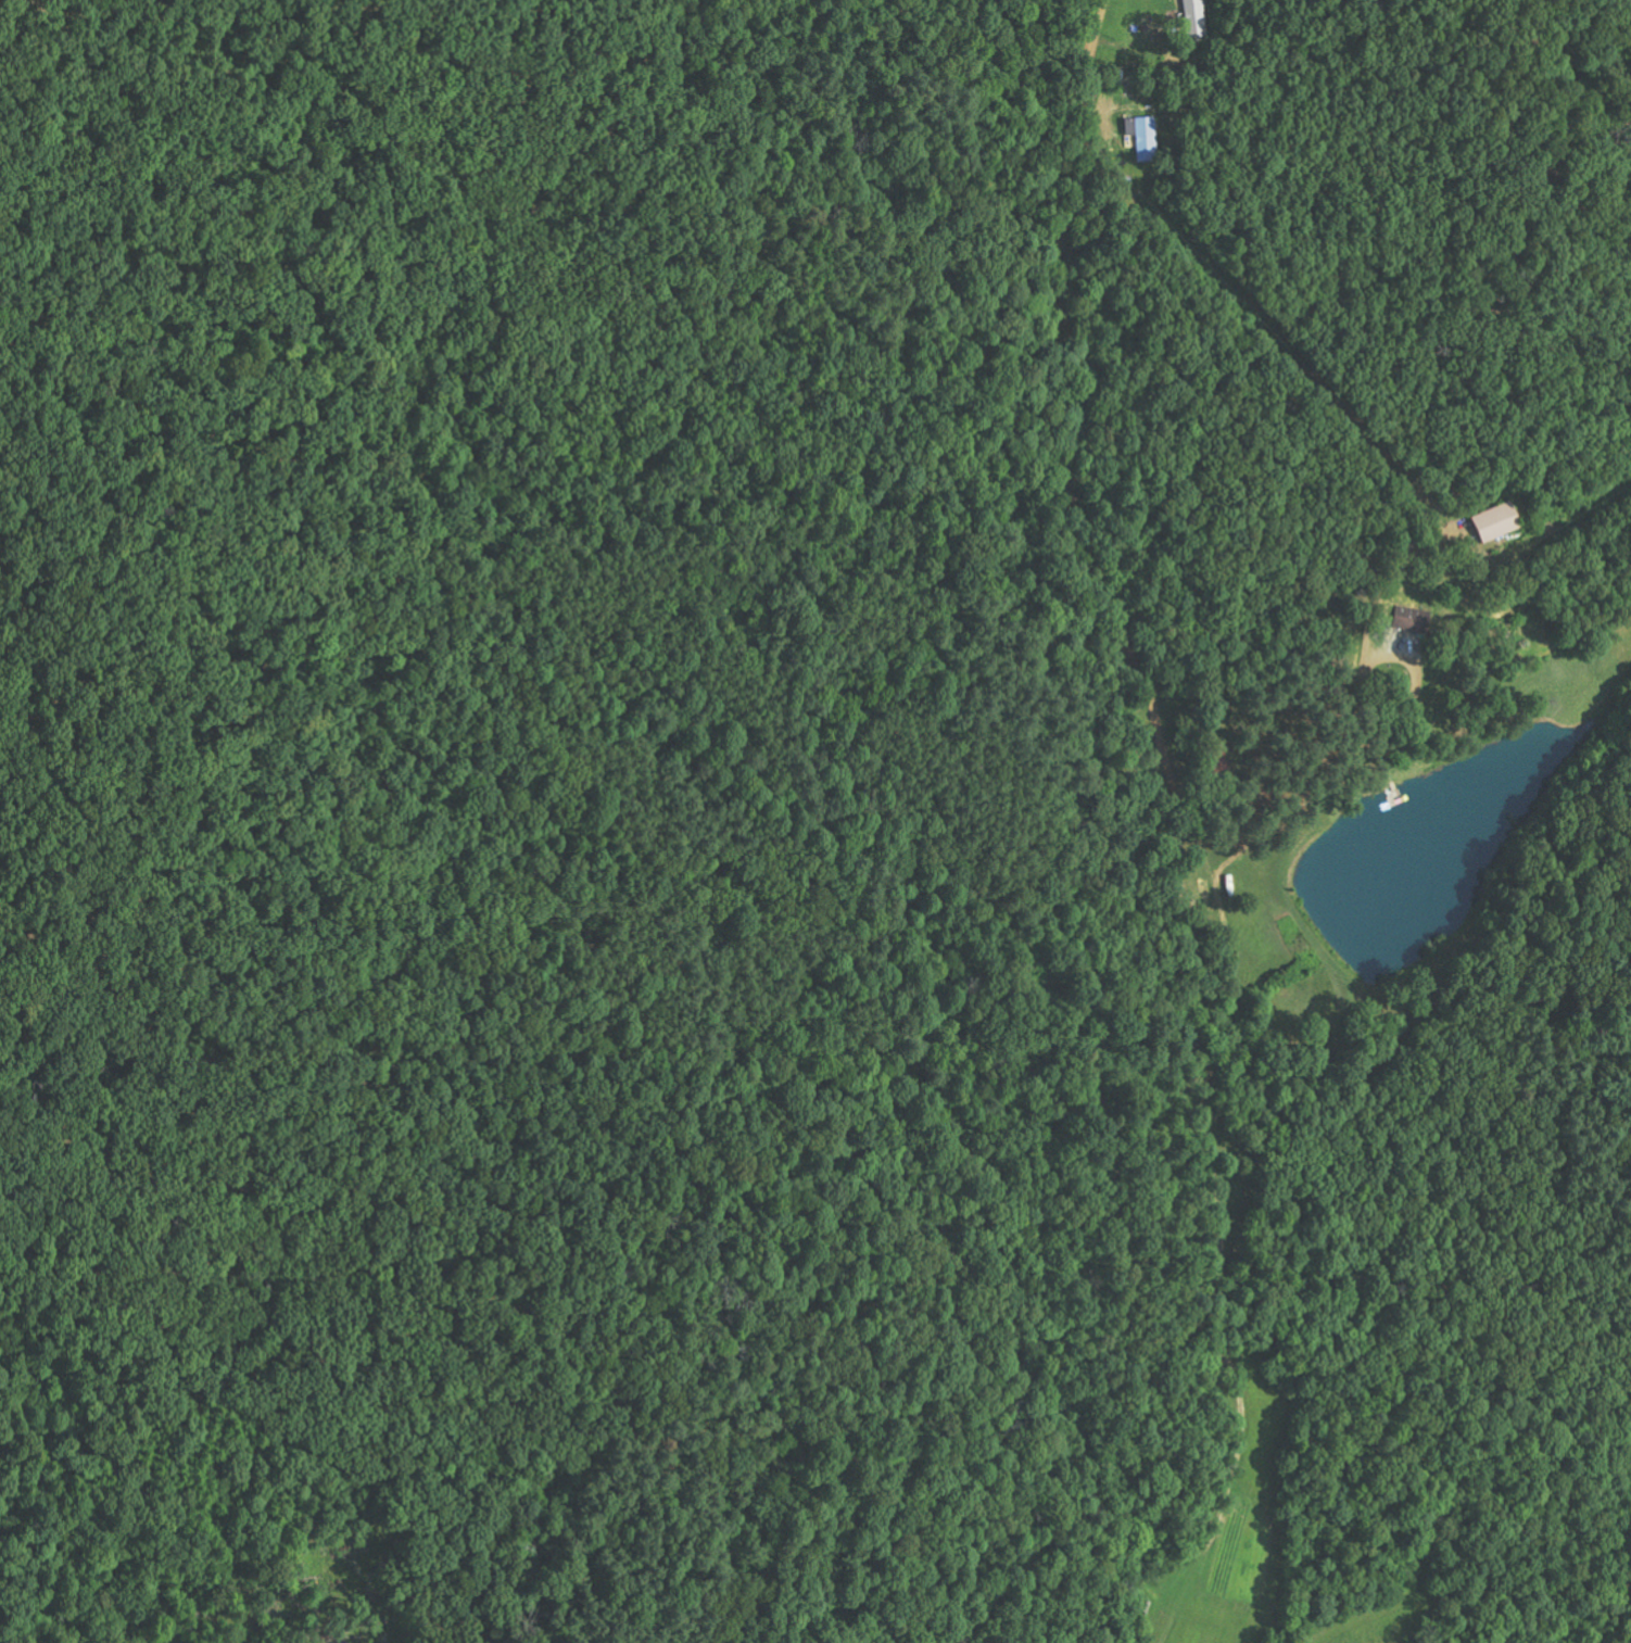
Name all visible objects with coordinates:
building: (1197, 14)
building: (1145, 136)
road: (1337, 261)
building: (1499, 521)
building: (1411, 618)

